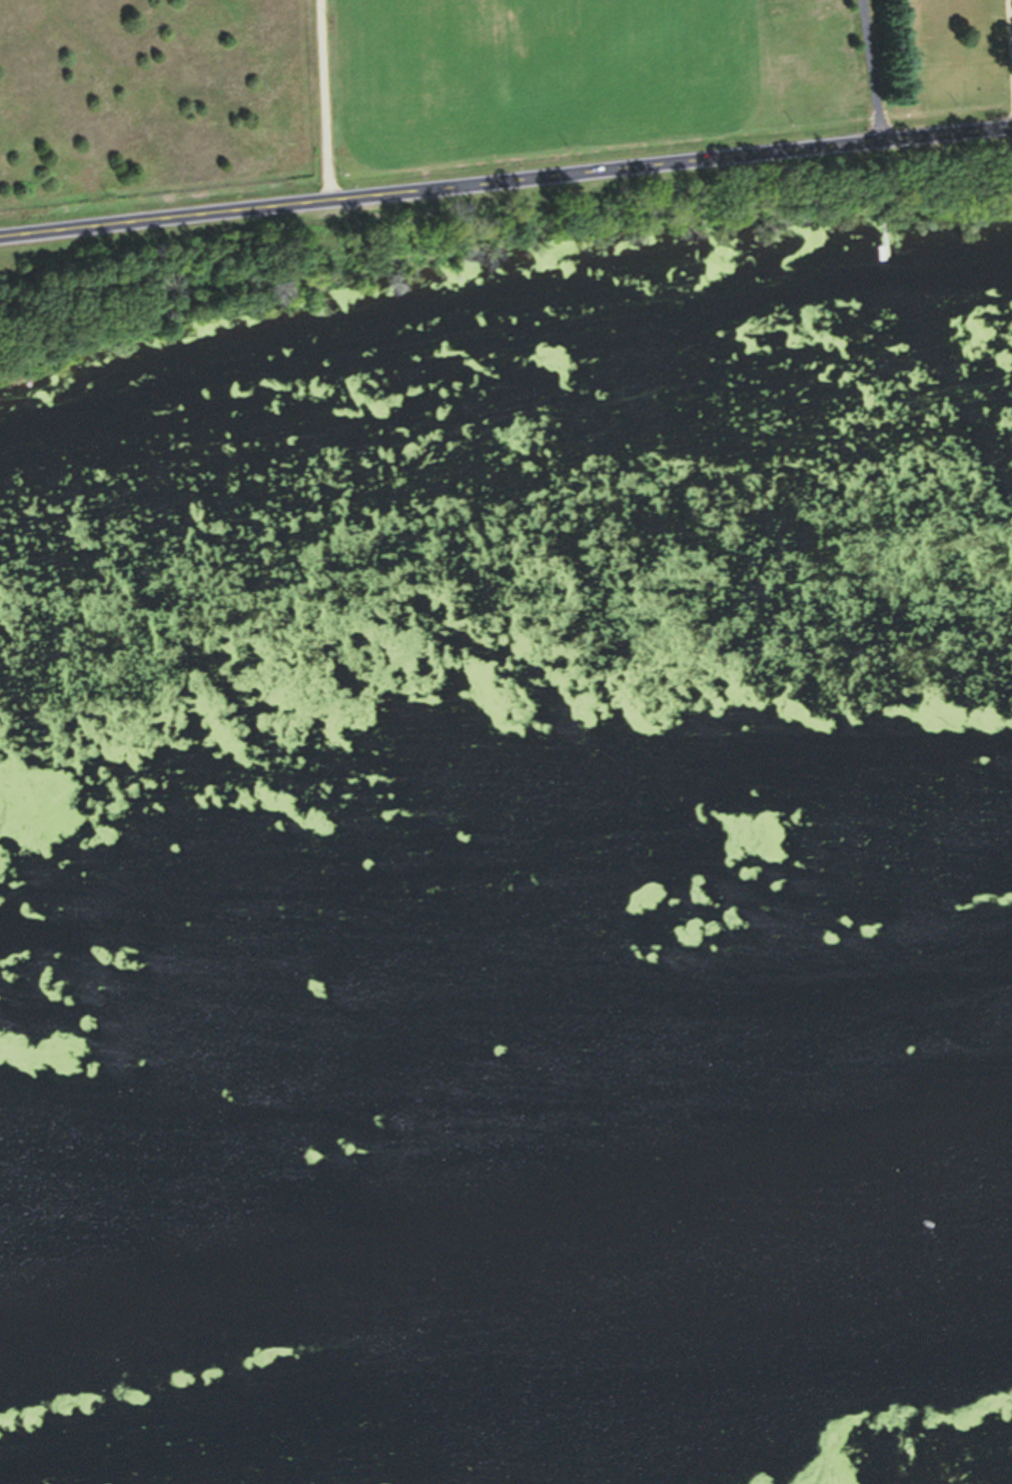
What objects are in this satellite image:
road: (1008, 45)
road: (870, 76)
road: (325, 106)
road: (505, 189)
river: (506, 1208)

